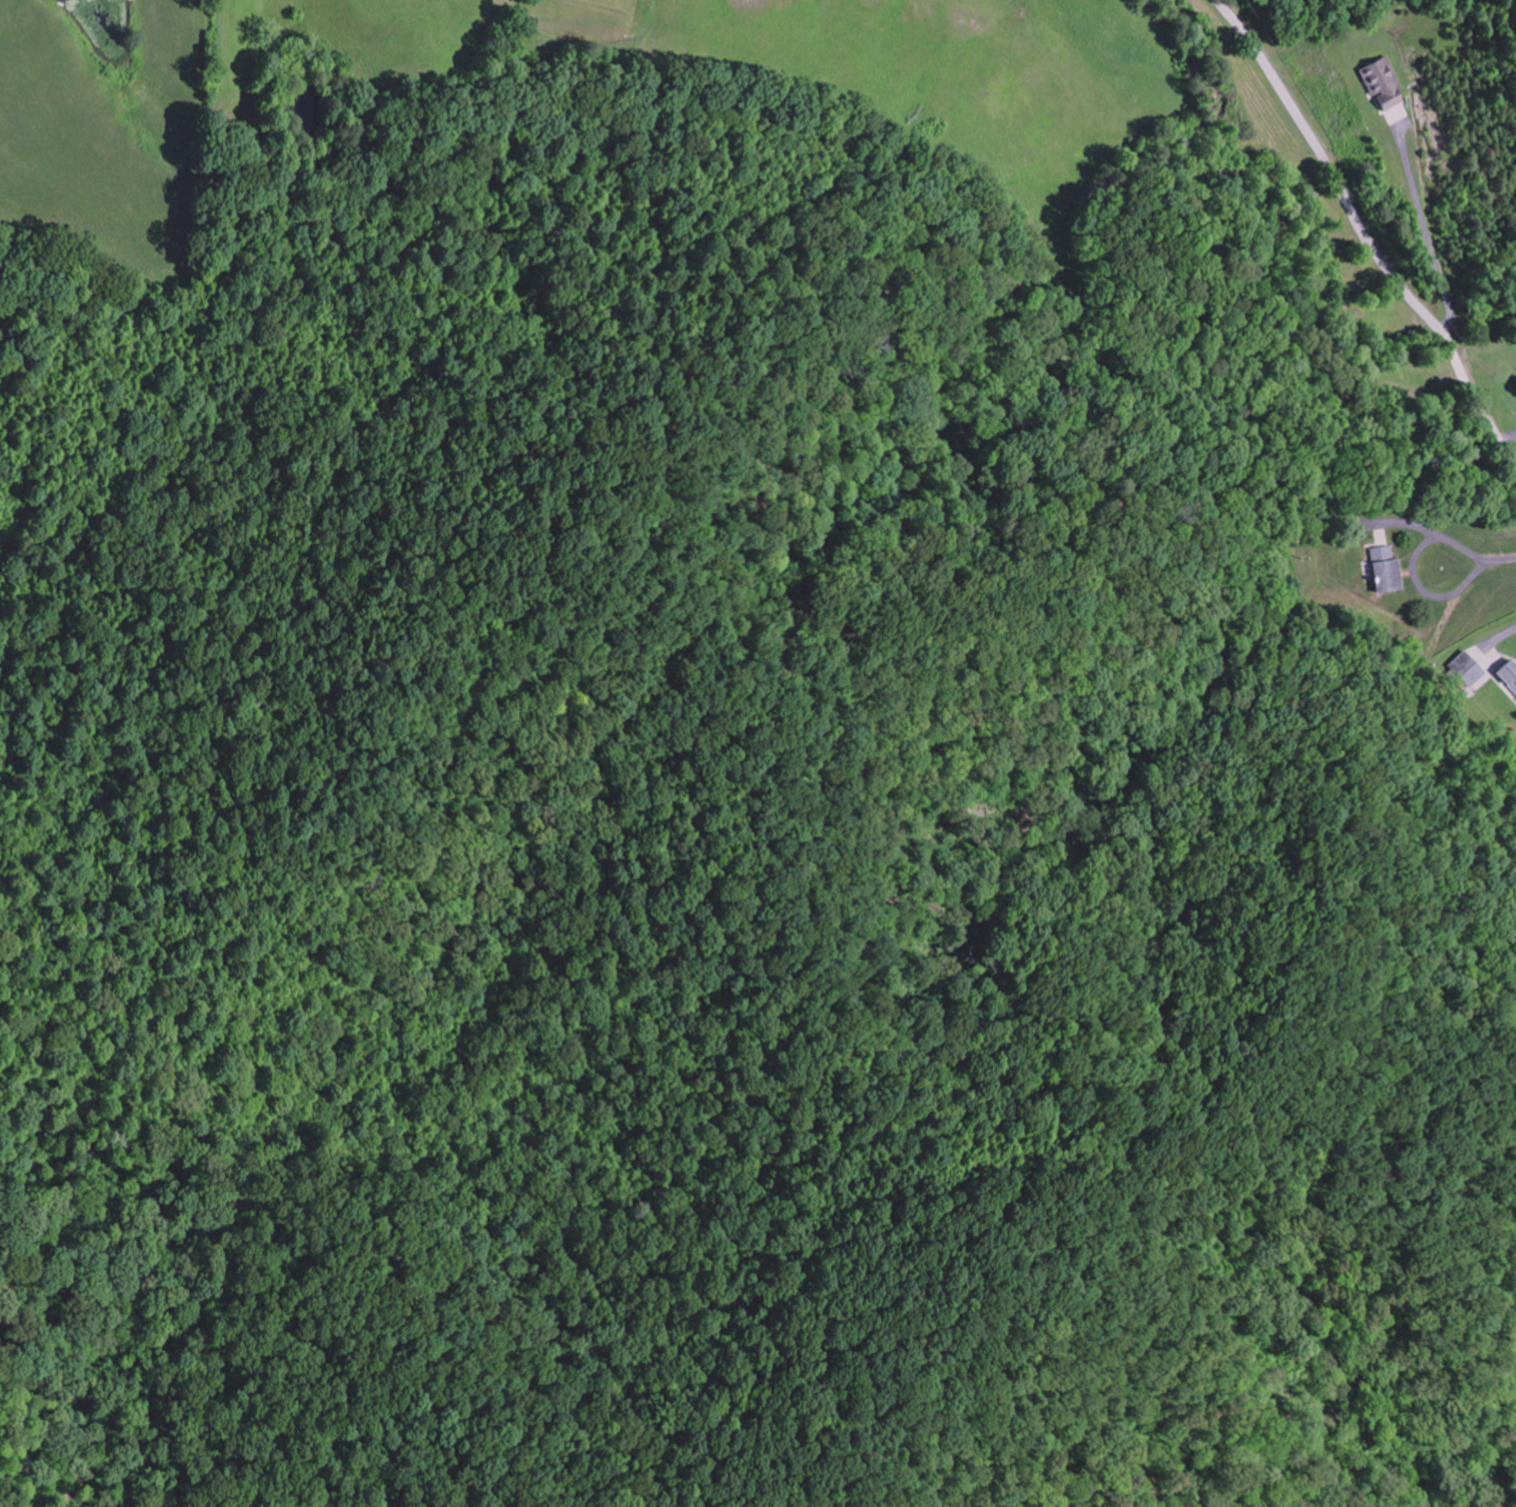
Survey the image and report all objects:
building: (1383, 84)
road: (1365, 235)
building: (1386, 568)
building: (1467, 668)
building: (1509, 674)

